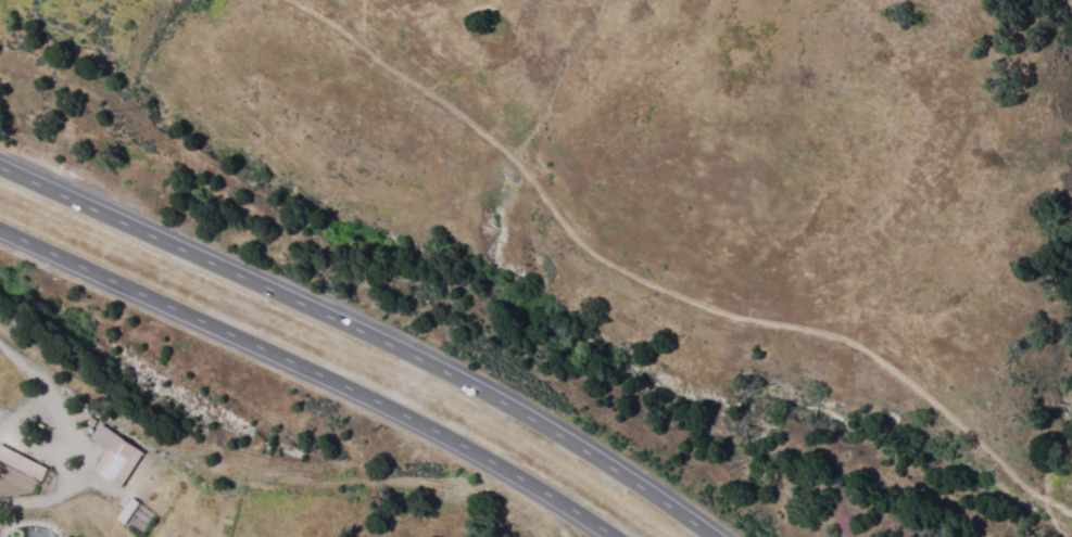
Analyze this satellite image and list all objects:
road: (376, 330)
road: (320, 379)
building: (113, 456)

